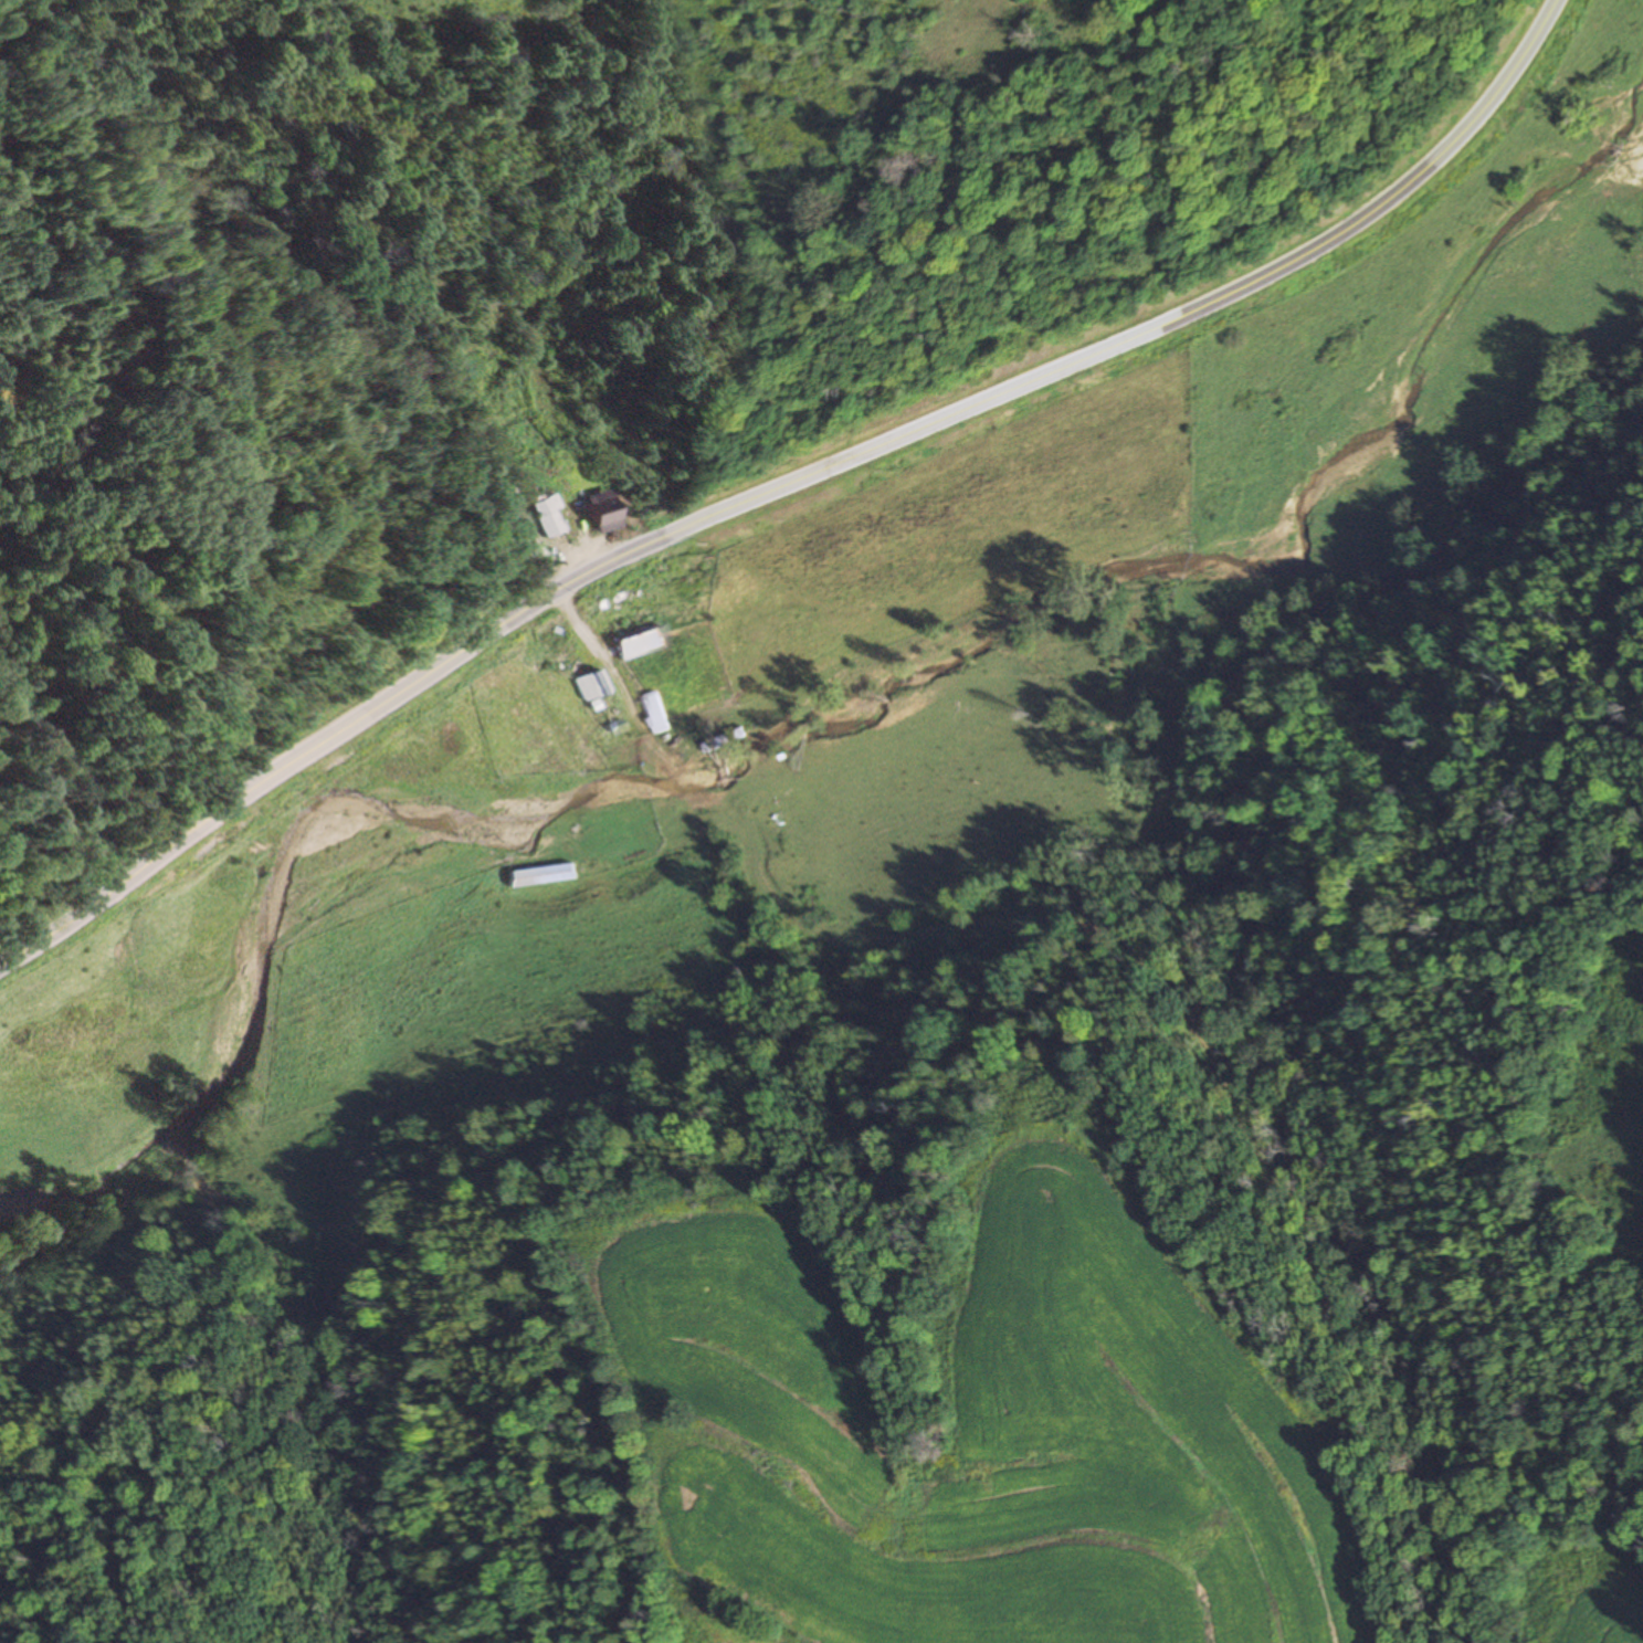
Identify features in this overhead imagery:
road: (788, 483)
building: (594, 513)
building: (543, 517)
building: (631, 633)
building: (592, 681)
building: (655, 713)
building: (726, 744)
building: (539, 875)
crop: (969, 1430)

